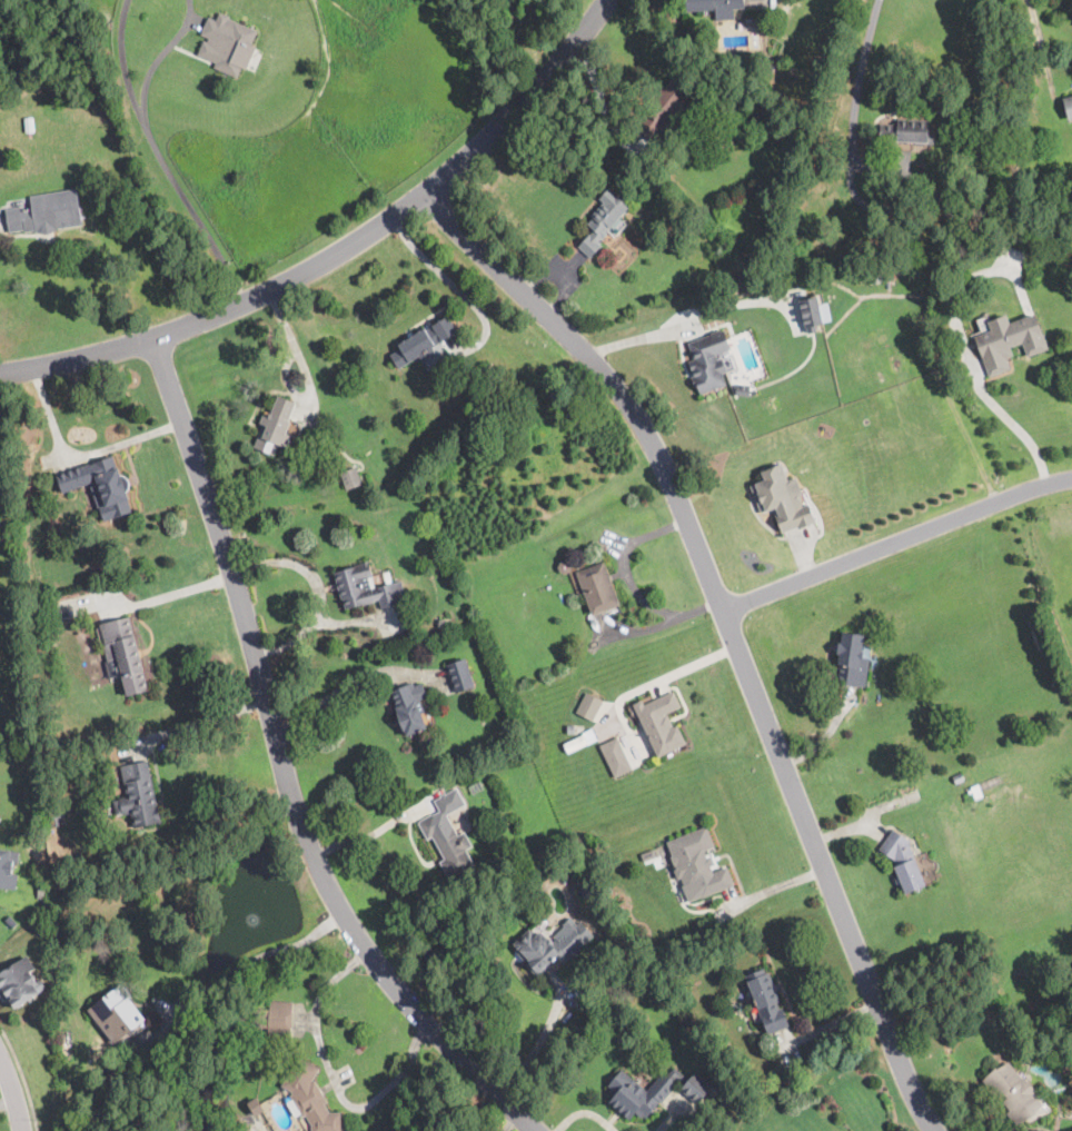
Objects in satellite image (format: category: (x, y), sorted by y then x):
building: (715, 7)
building: (231, 46)
road: (1043, 54)
road: (157, 60)
road: (123, 67)
building: (767, 67)
road: (856, 82)
road: (523, 99)
building: (1068, 107)
building: (664, 109)
building: (906, 131)
building: (47, 214)
road: (196, 217)
building: (603, 221)
building: (743, 277)
building: (882, 277)
road: (455, 287)
road: (226, 310)
building: (814, 312)
road: (685, 316)
building: (1009, 341)
building: (423, 343)
road: (294, 347)
building: (708, 360)
building: (728, 361)
building: (895, 369)
building: (742, 388)
road: (1014, 424)
building: (275, 426)
road: (81, 454)
building: (351, 478)
building: (100, 486)
building: (782, 497)
road: (897, 542)
building: (564, 571)
building: (367, 588)
building: (598, 588)
road: (177, 592)
building: (441, 623)
road: (731, 628)
building: (123, 655)
building: (852, 662)
building: (460, 675)
road: (337, 687)
building: (410, 707)
building: (589, 707)
road: (201, 718)
building: (661, 723)
building: (572, 727)
building: (580, 740)
building: (615, 756)
road: (286, 766)
building: (959, 778)
building: (587, 786)
building: (138, 795)
building: (967, 796)
building: (0, 814)
building: (0, 817)
building: (57, 817)
road: (367, 834)
building: (449, 845)
building: (648, 855)
building: (697, 863)
building: (903, 863)
building: (7, 871)
building: (138, 877)
road: (775, 889)
building: (43, 891)
building: (615, 891)
building: (43, 930)
building: (552, 945)
road: (256, 958)
building: (285, 980)
building: (19, 981)
building: (765, 1000)
building: (116, 1014)
building: (276, 1019)
road: (535, 1046)
building: (111, 1064)
road: (23, 1077)
road: (334, 1081)
building: (653, 1091)
road: (13, 1092)
building: (1013, 1092)
building: (309, 1097)
building: (1040, 1130)

